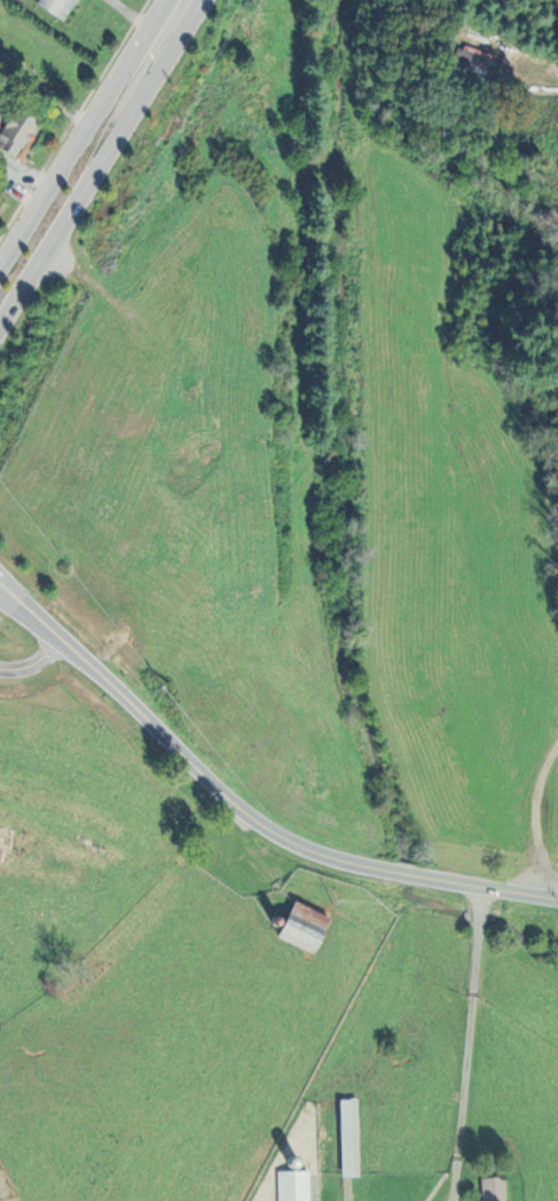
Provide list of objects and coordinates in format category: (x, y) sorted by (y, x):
building: (56, 7)
road: (166, 23)
road: (537, 67)
building: (15, 131)
road: (74, 156)
road: (83, 188)
road: (8, 584)
road: (7, 591)
road: (7, 593)
road: (251, 813)
road: (534, 818)
building: (302, 928)
road: (494, 1036)
building: (348, 1138)
building: (492, 1189)

